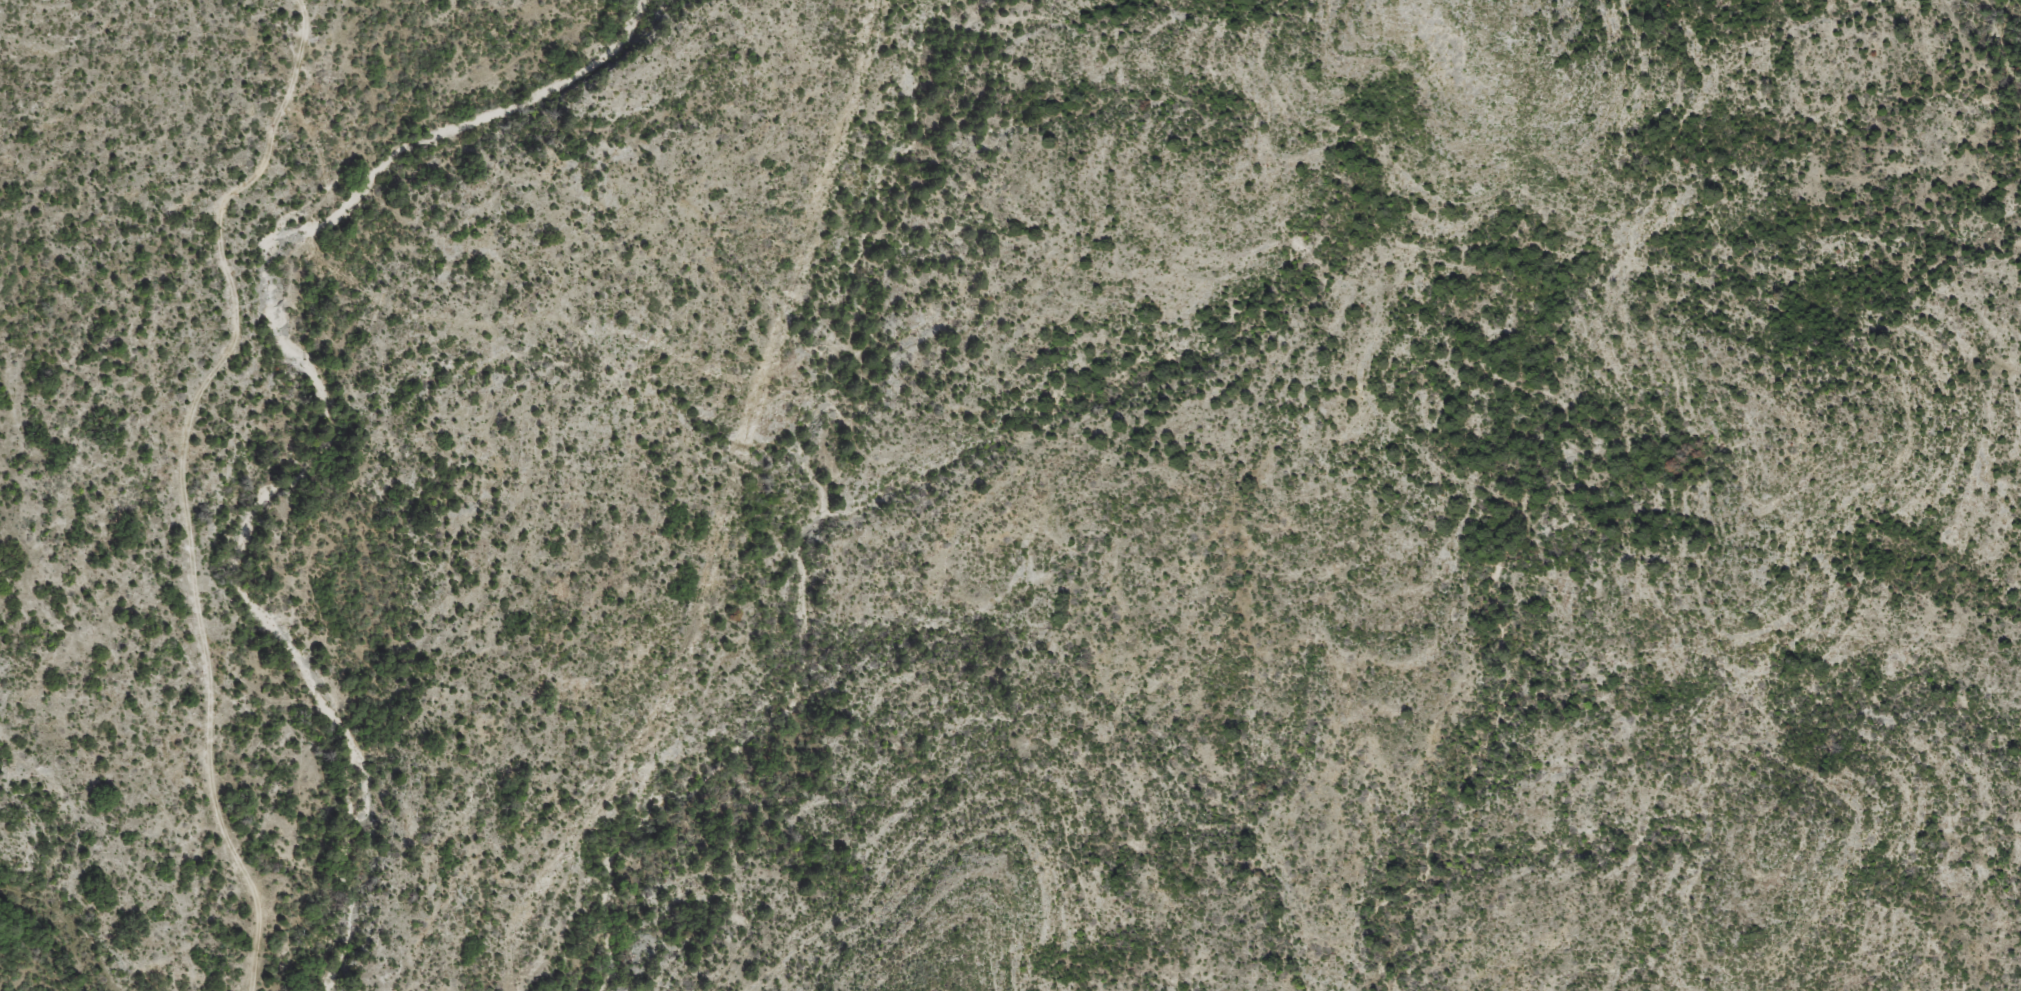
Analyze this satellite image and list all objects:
road: (175, 482)

